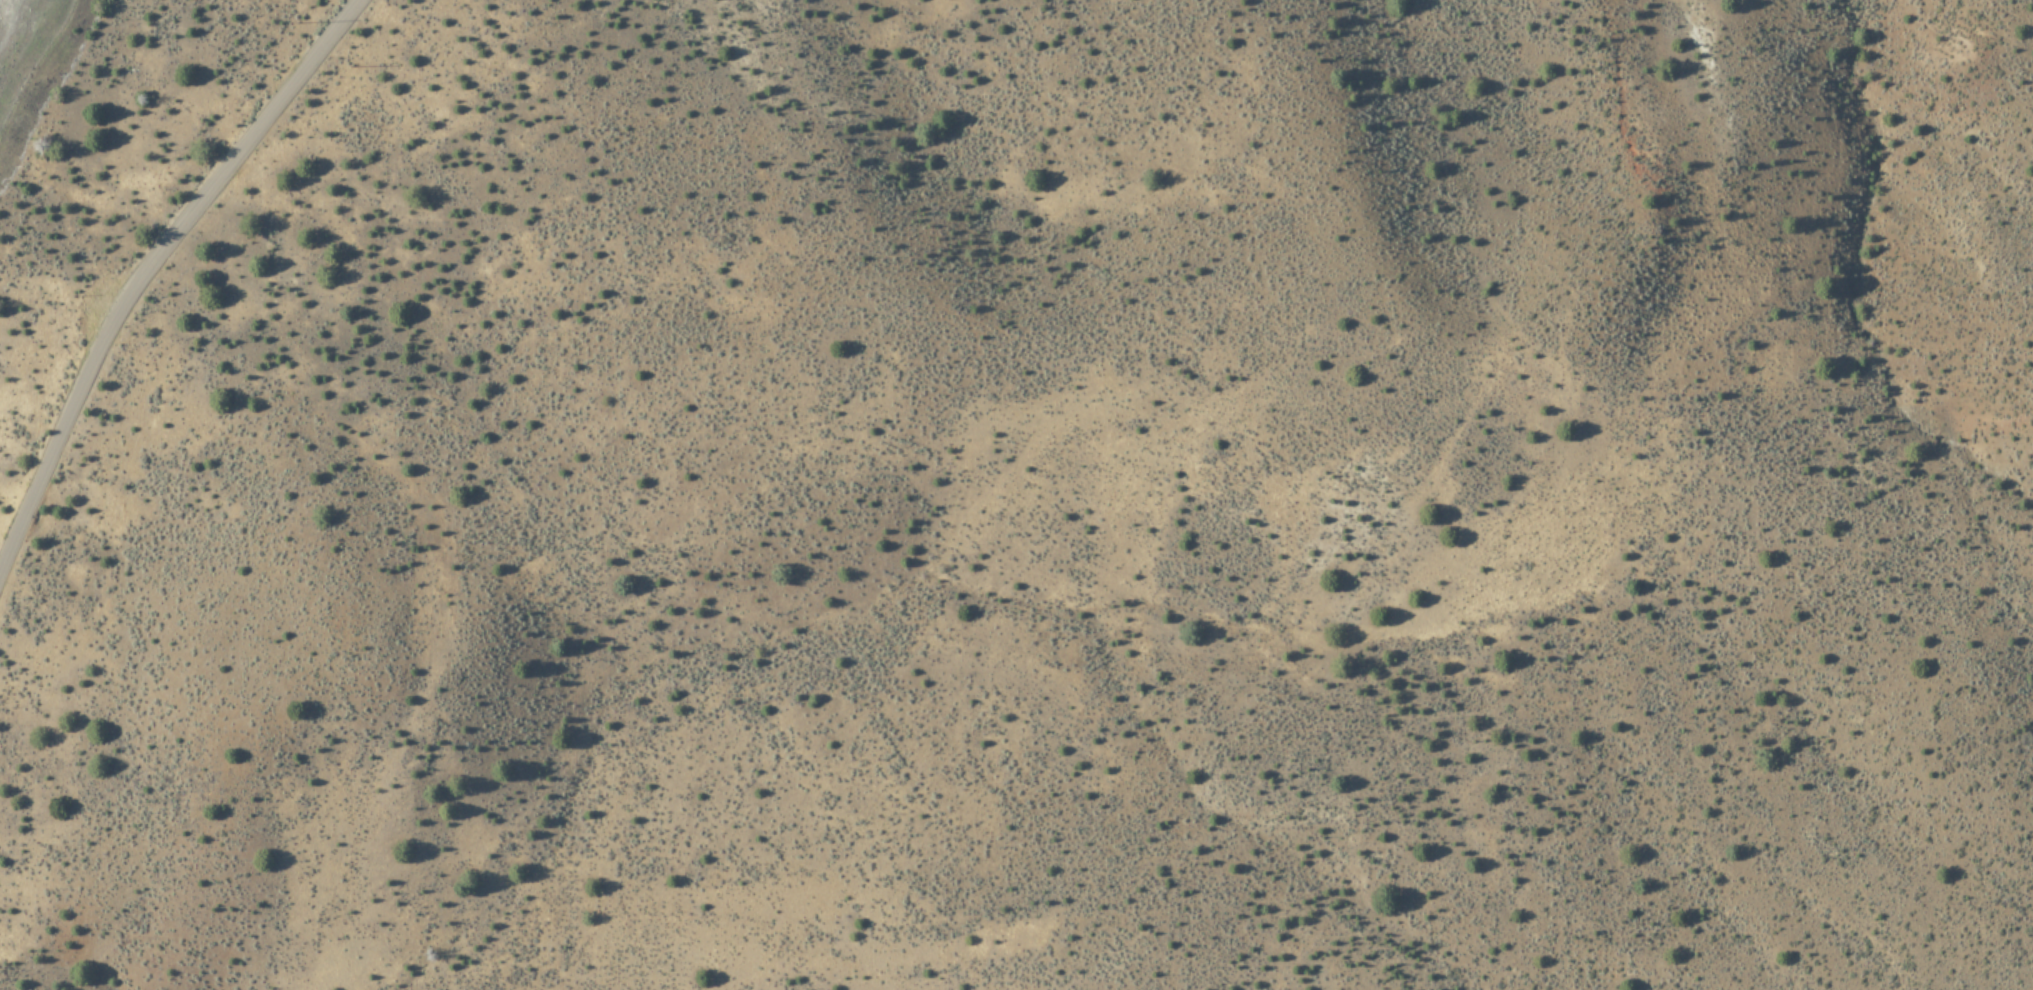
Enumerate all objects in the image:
road: (149, 276)

